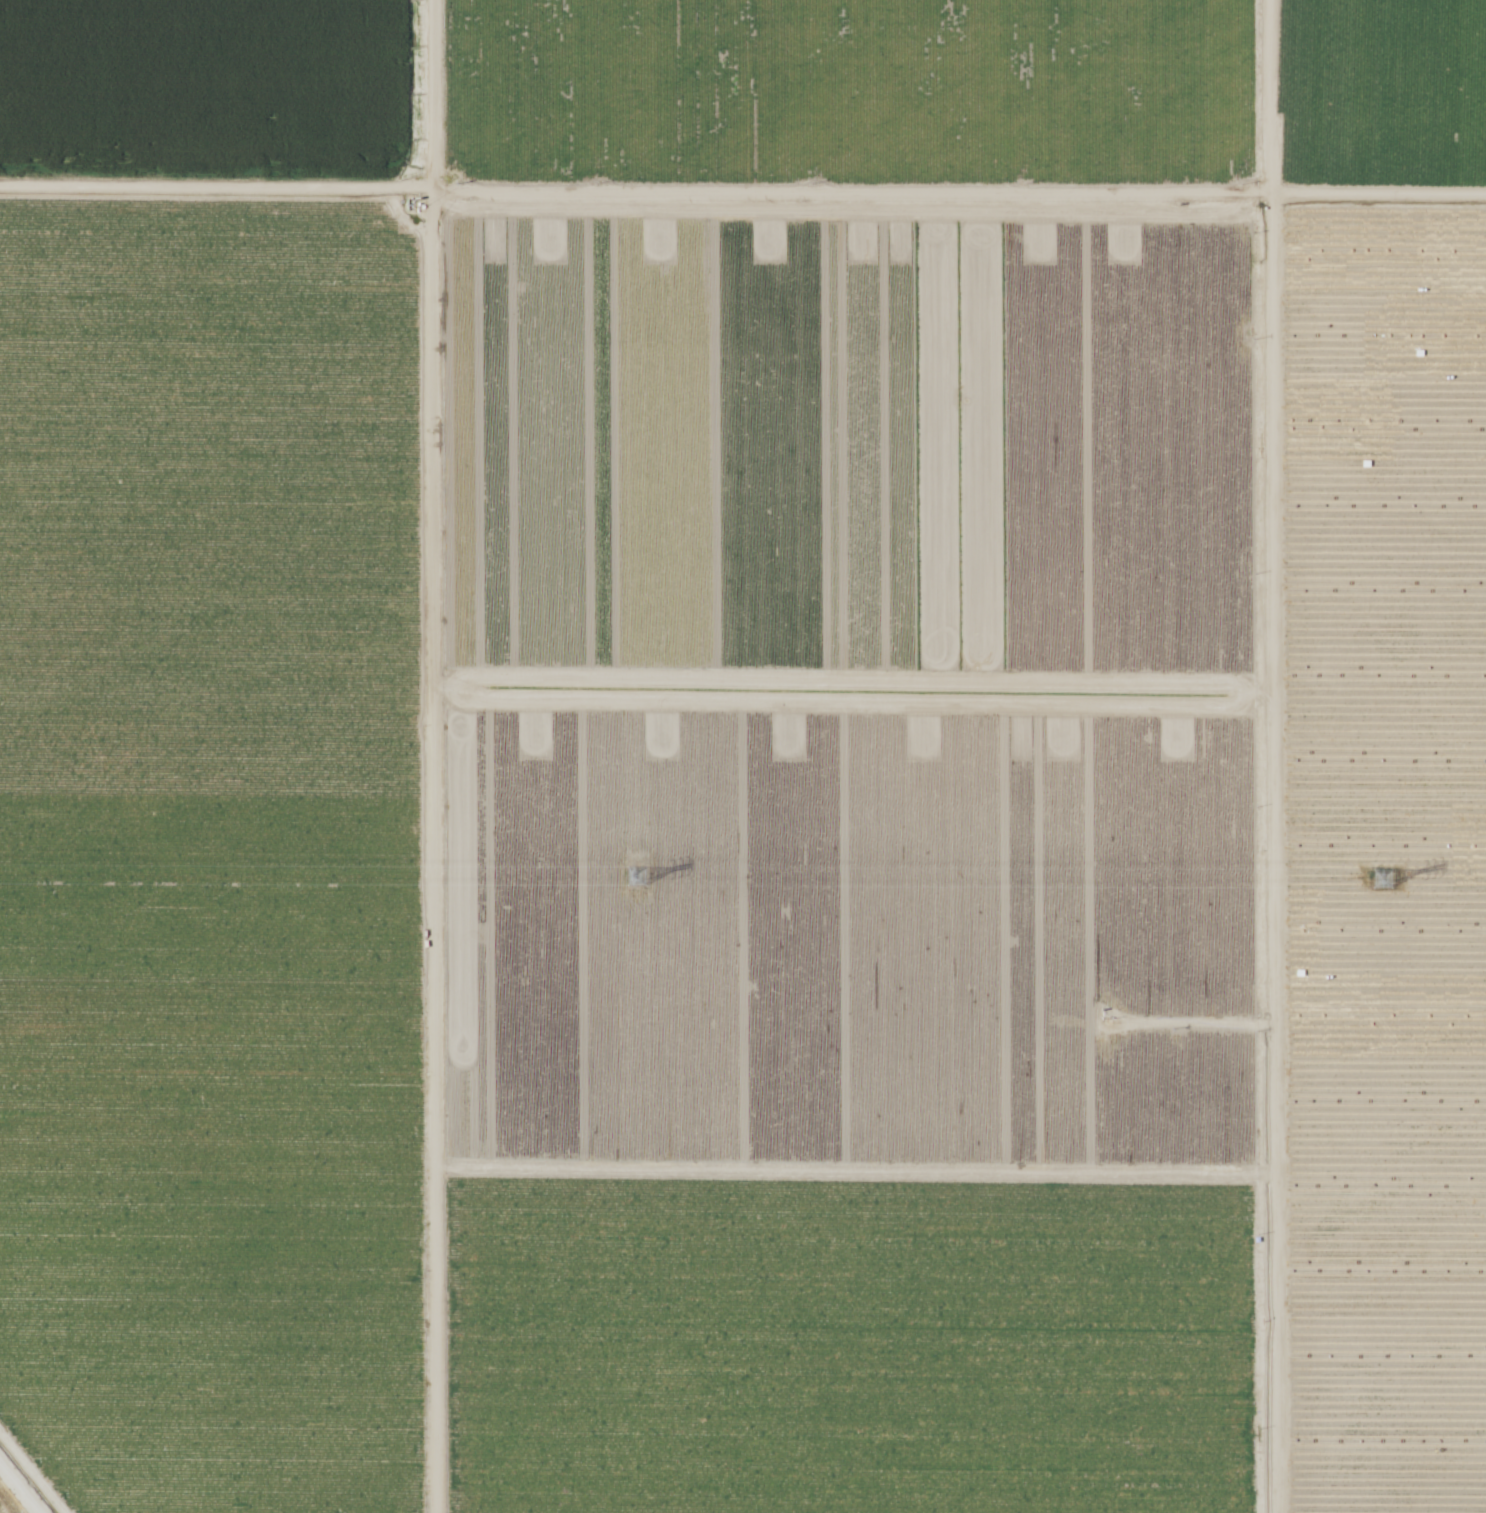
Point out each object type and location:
crop: (1399, 111)
crop: (687, 177)
road: (743, 184)
road: (1266, 756)
power tower: (635, 877)
power tower: (1379, 878)
crop: (745, 926)
road: (21, 1485)

